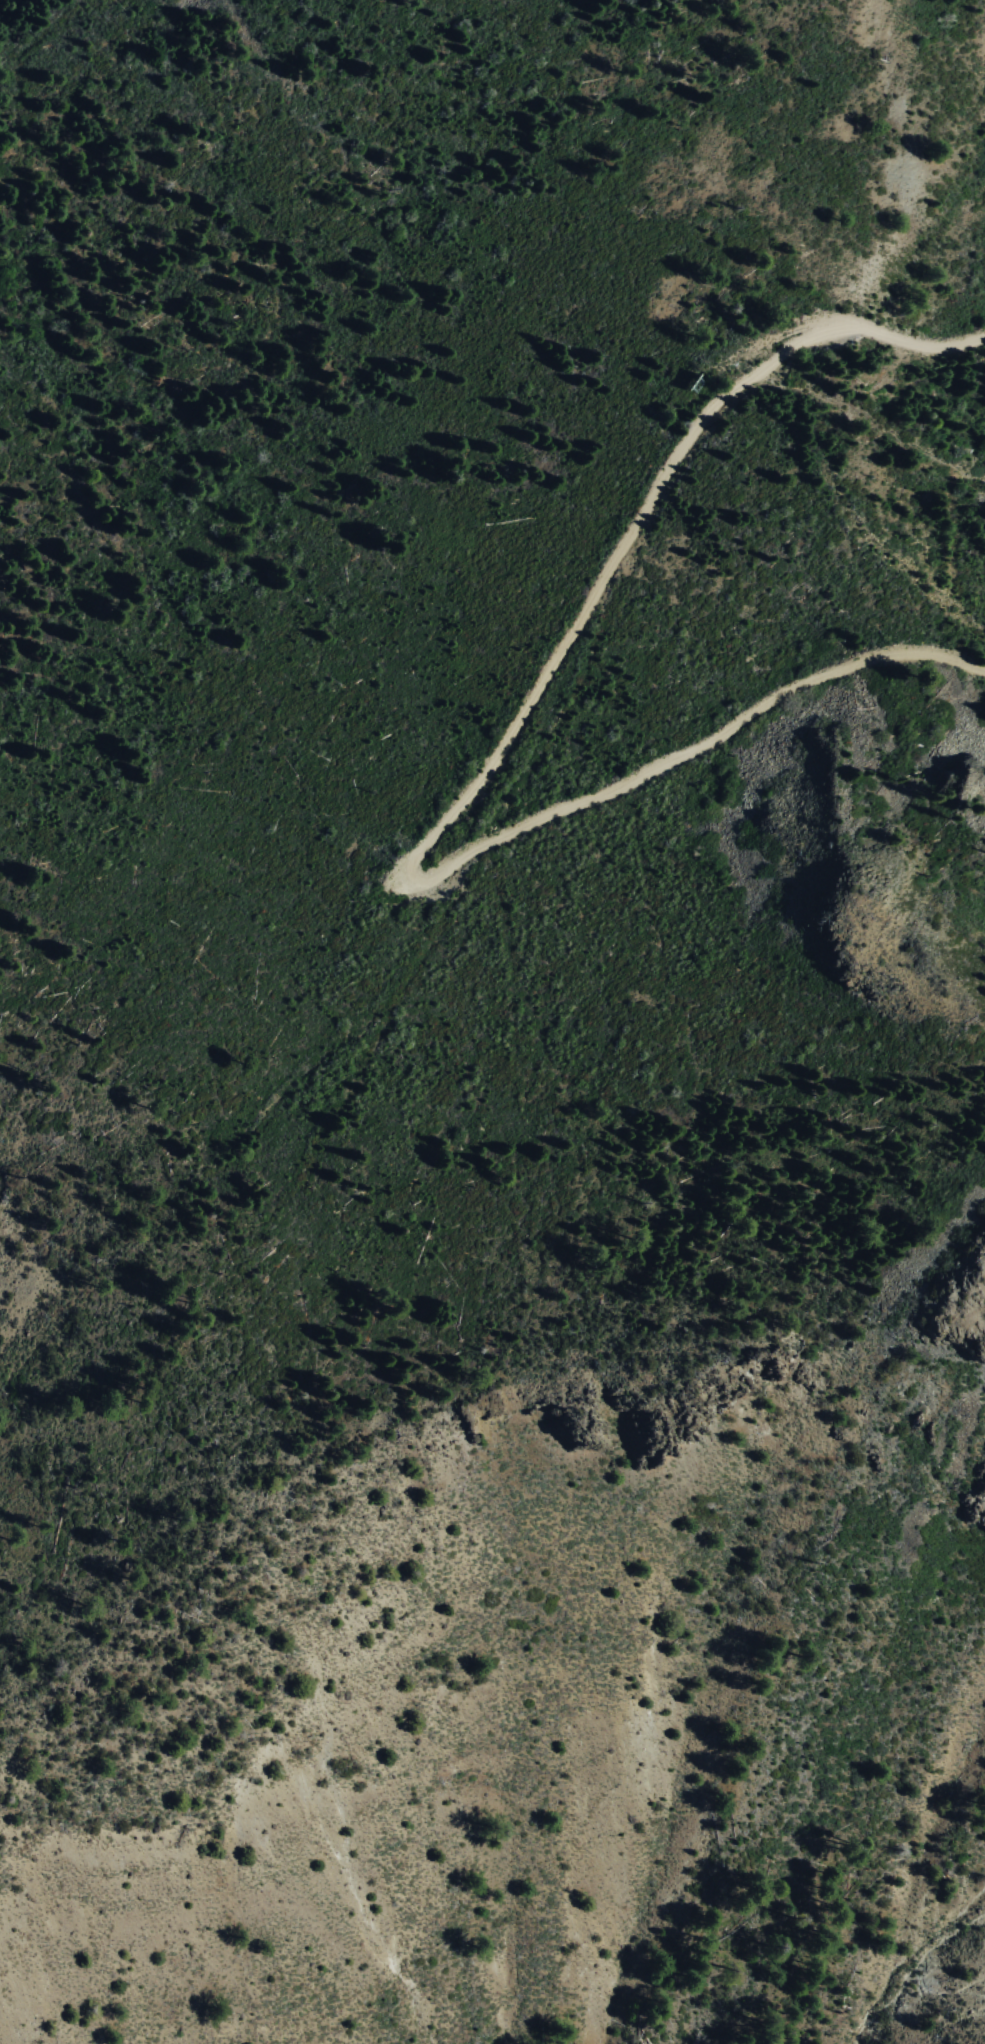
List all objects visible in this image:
road: (474, 784)

